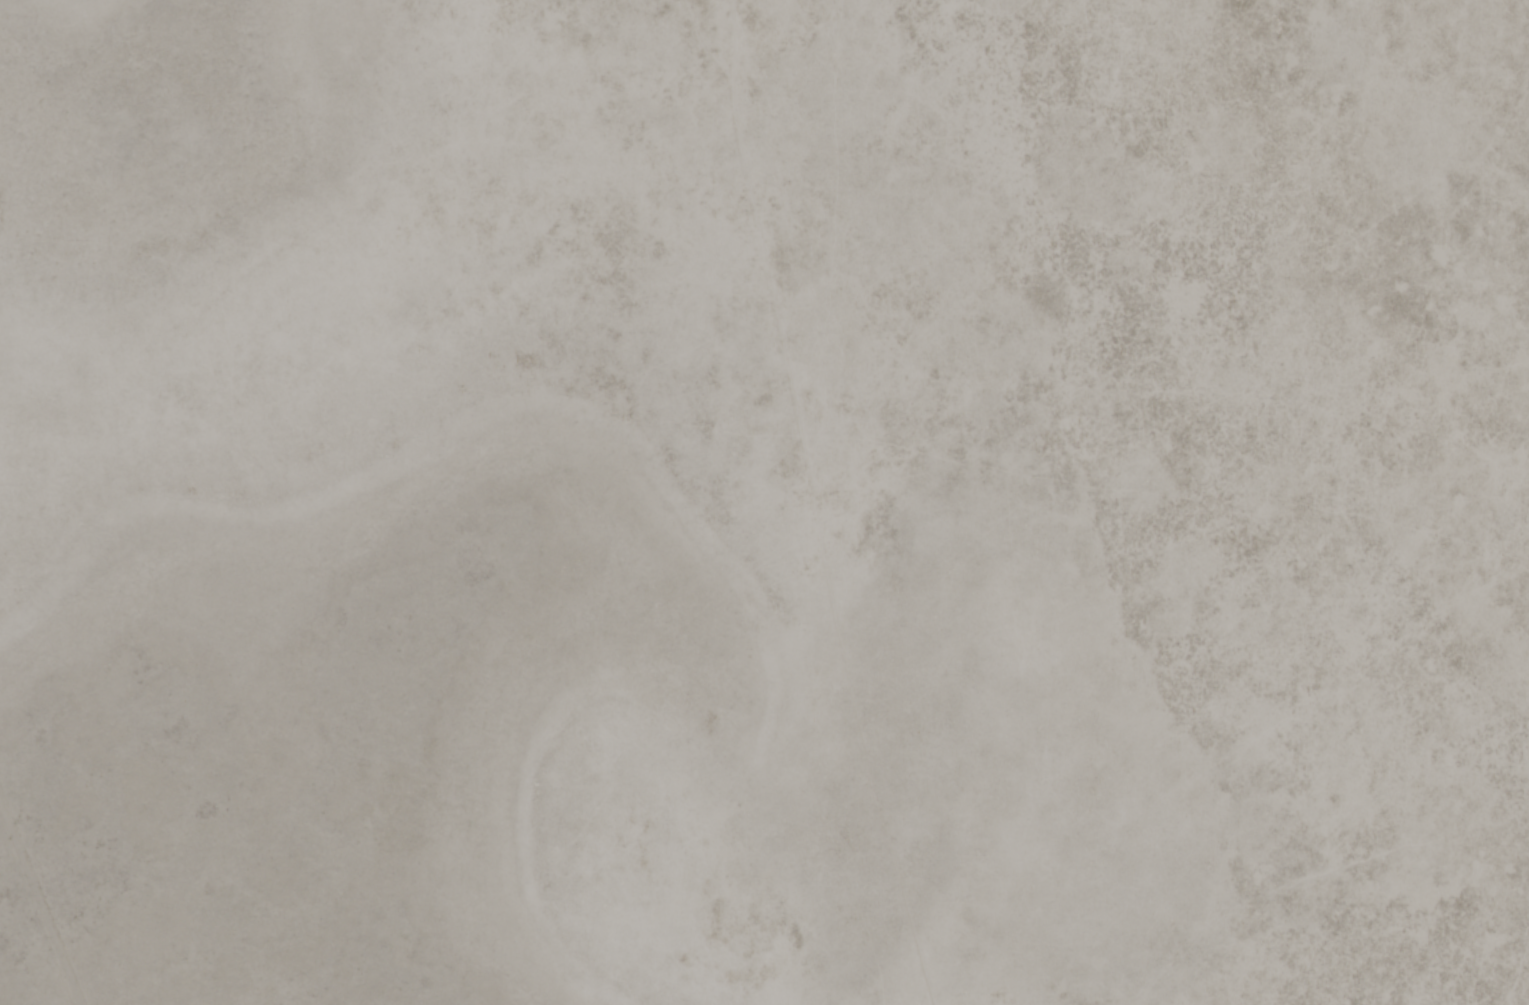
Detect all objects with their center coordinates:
road: (39, 910)

